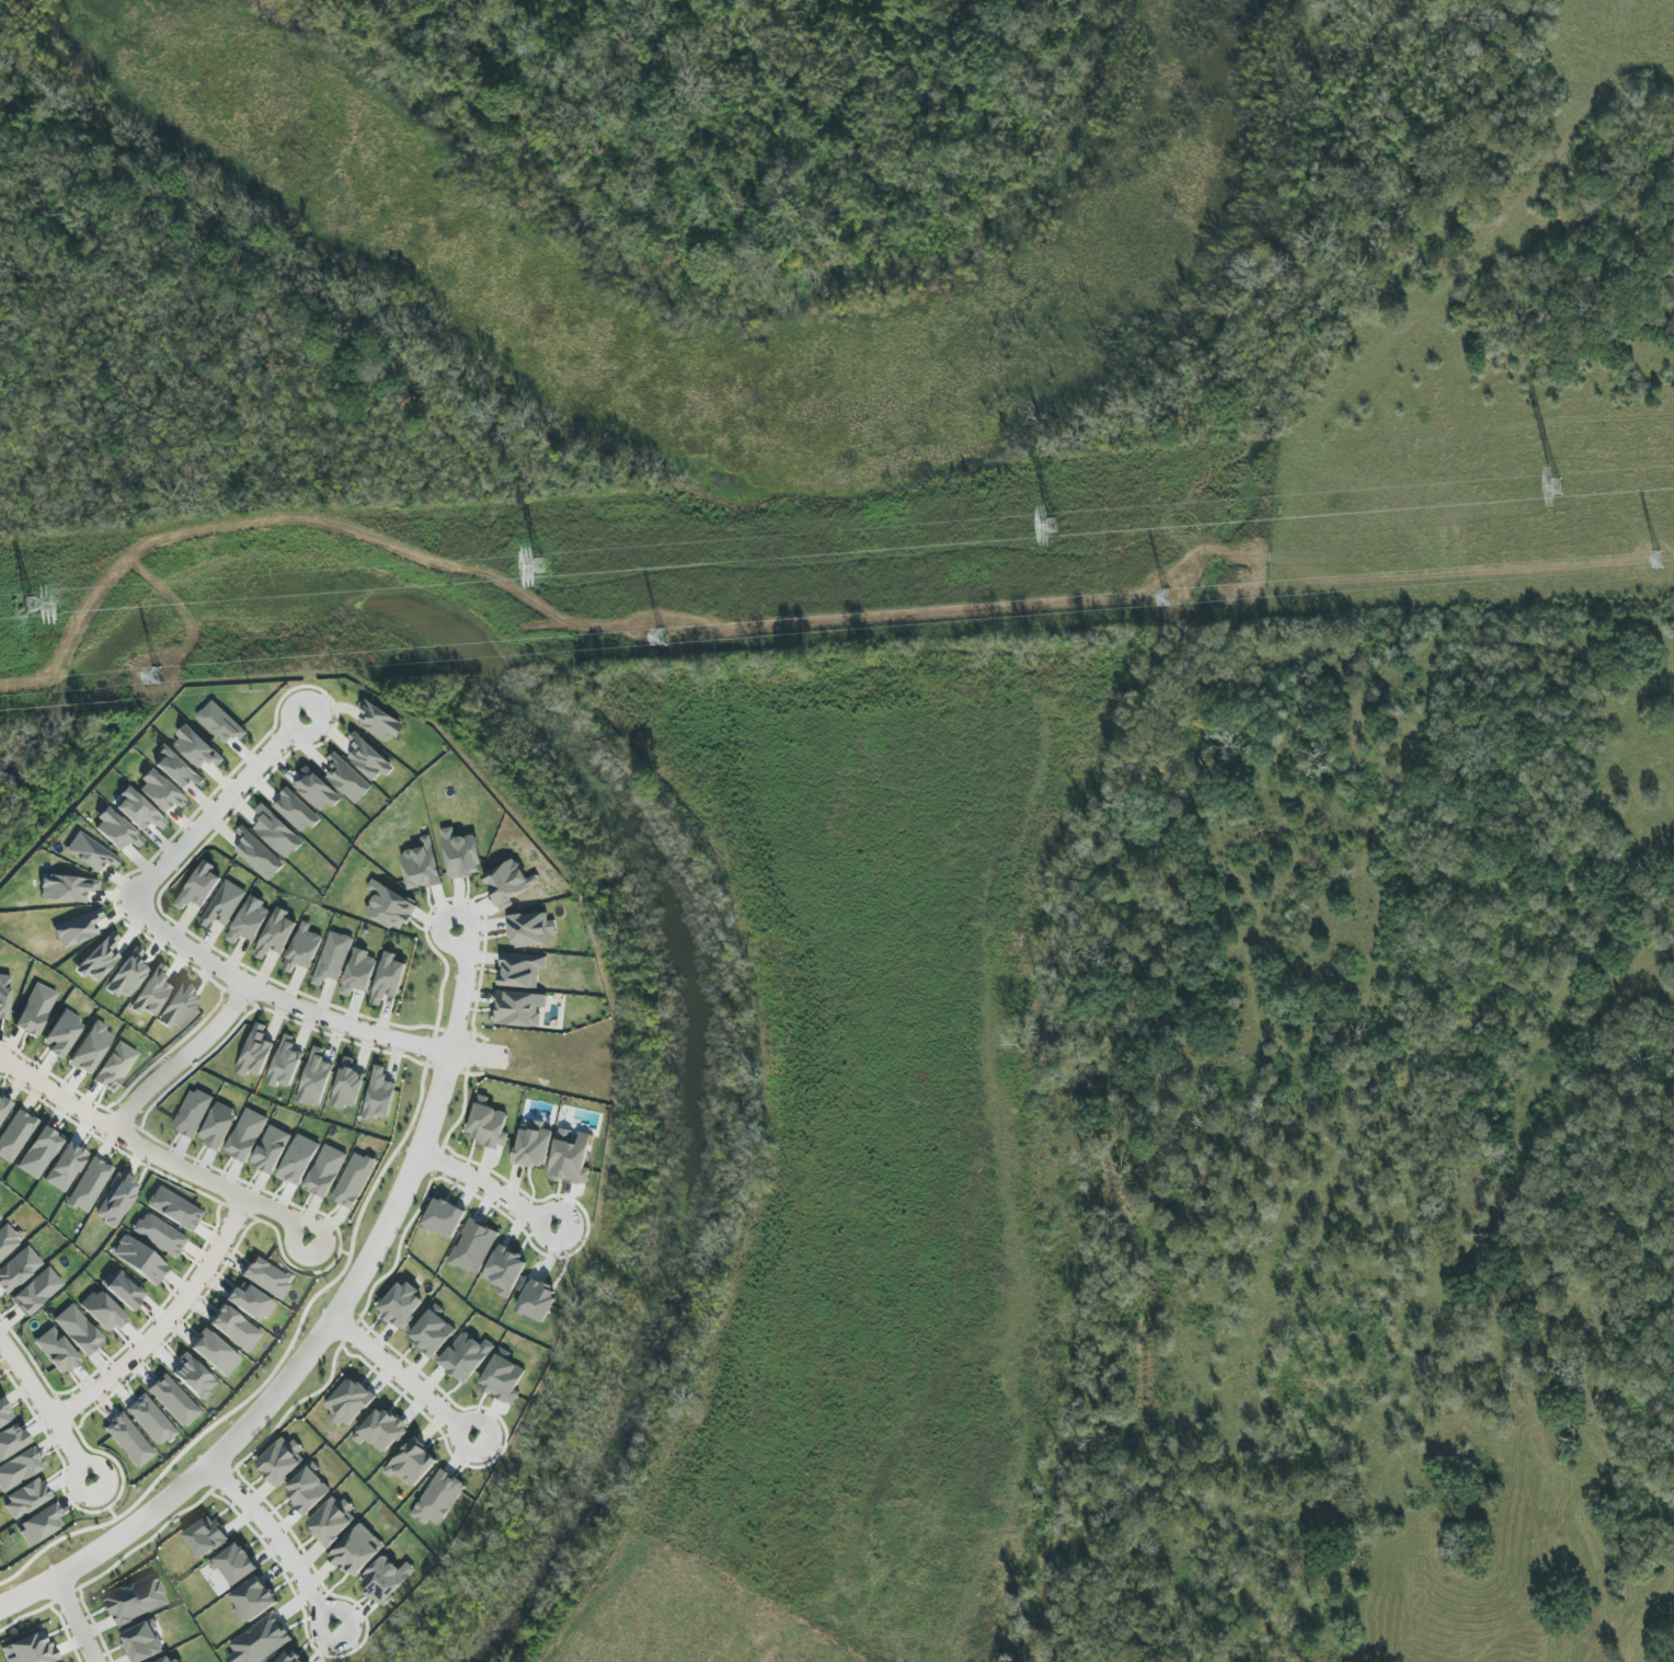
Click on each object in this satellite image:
power tower: (1555, 486)
power tower: (1051, 526)
power tower: (1656, 561)
power tower: (538, 566)
power tower: (1165, 600)
power tower: (26, 605)
power tower: (661, 641)
power tower: (156, 678)
road: (293, 709)
building: (380, 722)
building: (220, 723)
road: (285, 738)
building: (197, 748)
building: (368, 758)
building: (176, 768)
building: (347, 779)
building: (316, 790)
building: (159, 792)
building: (137, 811)
building: (296, 812)
building: (115, 830)
building: (277, 833)
building: (89, 853)
building: (259, 855)
building: (461, 855)
building: (421, 866)
river: (654, 875)
road: (160, 878)
building: (507, 883)
building: (199, 886)
building: (66, 889)
building: (223, 904)
building: (389, 907)
building: (250, 921)
building: (77, 929)
building: (530, 930)
building: (276, 933)
building: (303, 948)
building: (332, 958)
building: (98, 960)
building: (521, 970)
building: (358, 972)
building: (126, 975)
building: (389, 977)
building: (150, 993)
road: (456, 995)
building: (3, 997)
building: (177, 1008)
building: (34, 1009)
building: (518, 1009)
road: (343, 1028)
building: (61, 1034)
building: (90, 1048)
building: (255, 1053)
road: (180, 1058)
building: (285, 1064)
building: (114, 1067)
building: (316, 1078)
building: (347, 1088)
building: (379, 1096)
building: (3, 1109)
building: (193, 1113)
building: (488, 1124)
building: (219, 1125)
building: (14, 1135)
building: (246, 1136)
building: (531, 1145)
building: (272, 1149)
road: (148, 1151)
building: (38, 1153)
building: (570, 1158)
building: (298, 1159)
building: (64, 1167)
building: (325, 1171)
building: (354, 1180)
building: (88, 1185)
road: (482, 1191)
building: (116, 1200)
building: (173, 1208)
building: (0, 1216)
building: (443, 1218)
building: (158, 1235)
building: (7, 1241)
building: (472, 1247)
building: (139, 1260)
building: (18, 1269)
building: (505, 1271)
building: (265, 1277)
building: (124, 1291)
building: (35, 1292)
building: (537, 1300)
building: (249, 1303)
building: (402, 1305)
building: (101, 1311)
road: (167, 1319)
building: (233, 1328)
building: (77, 1330)
building: (432, 1331)
building: (55, 1351)
building: (214, 1353)
road: (308, 1356)
building: (466, 1356)
building: (193, 1377)
building: (503, 1377)
road: (397, 1379)
road: (45, 1398)
building: (173, 1401)
building: (348, 1402)
building: (4, 1414)
building: (150, 1420)
building: (380, 1431)
building: (11, 1441)
building: (128, 1441)
building: (280, 1460)
building: (412, 1464)
building: (19, 1468)
building: (308, 1489)
building: (25, 1498)
building: (438, 1499)
building: (331, 1521)
building: (39, 1525)
building: (205, 1537)
road: (268, 1537)
building: (356, 1550)
building: (234, 1563)
building: (385, 1580)
road: (28, 1589)
building: (135, 1600)
building: (253, 1600)
road: (70, 1621)
building: (261, 1640)
building: (142, 1642)
building: (28, 1649)
building: (289, 1657)
building: (169, 1659)

